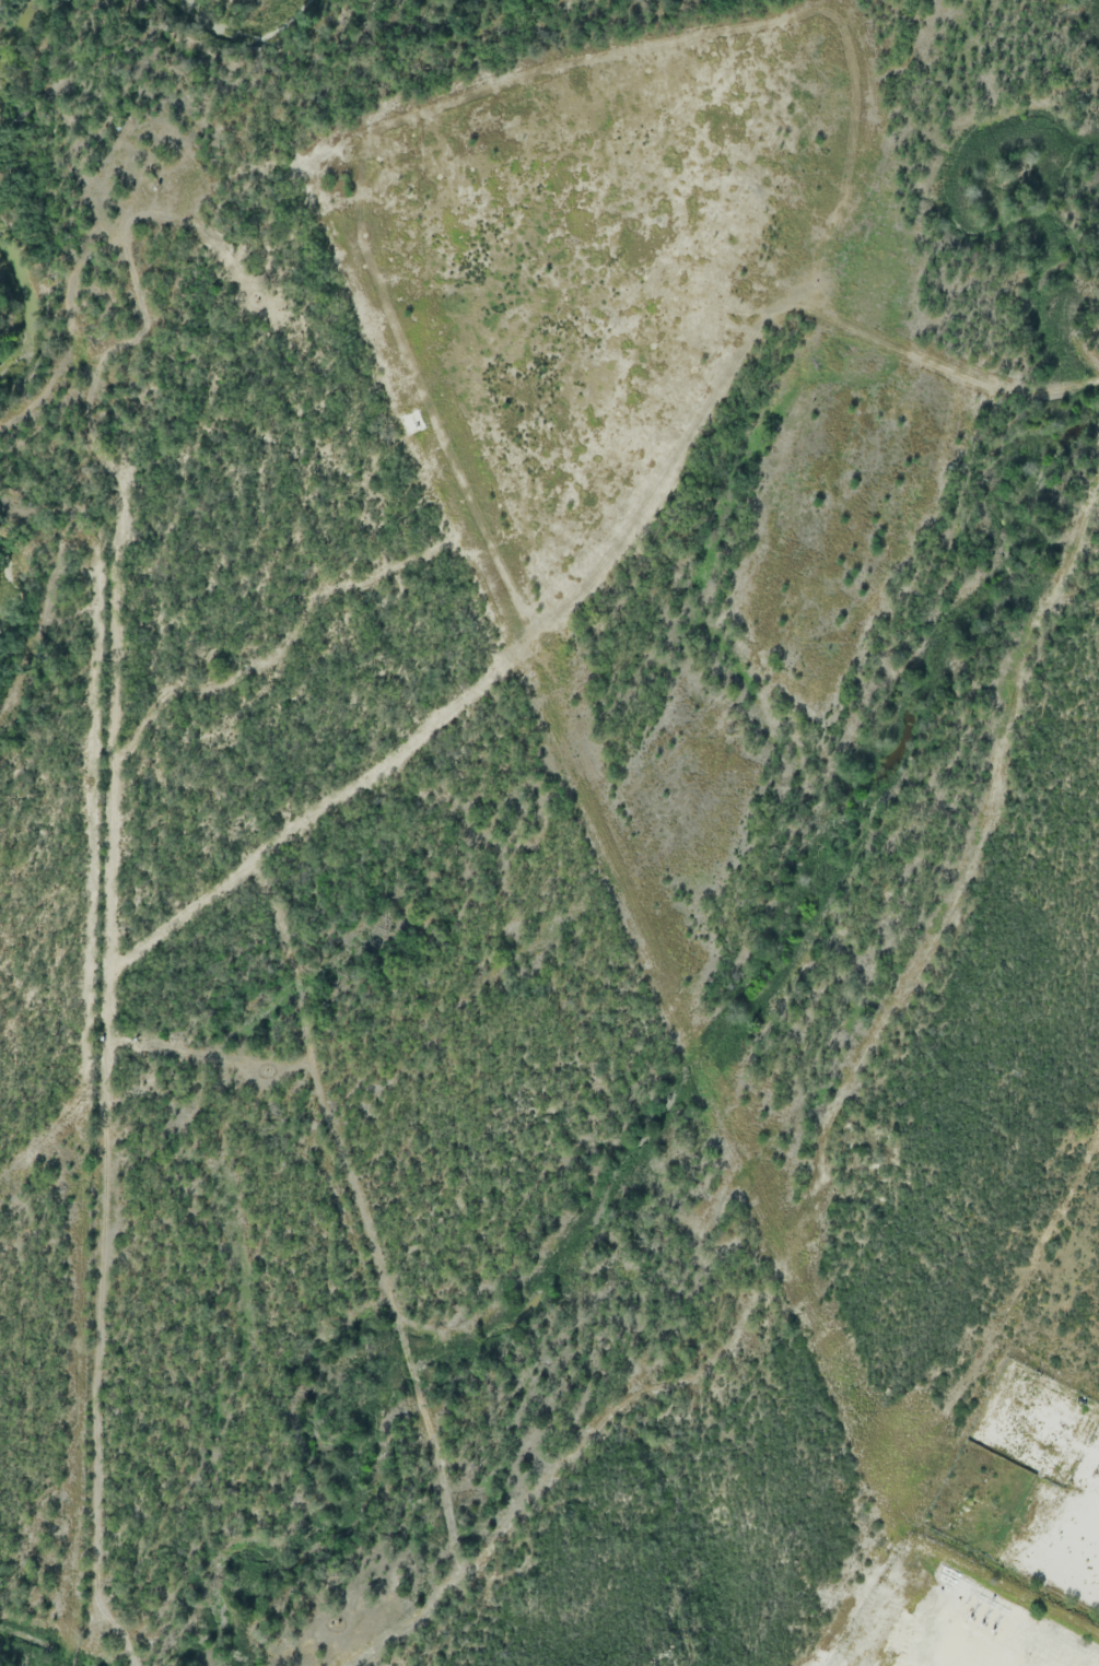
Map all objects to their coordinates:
river: (24, 30)
river: (255, 39)
river: (23, 310)

